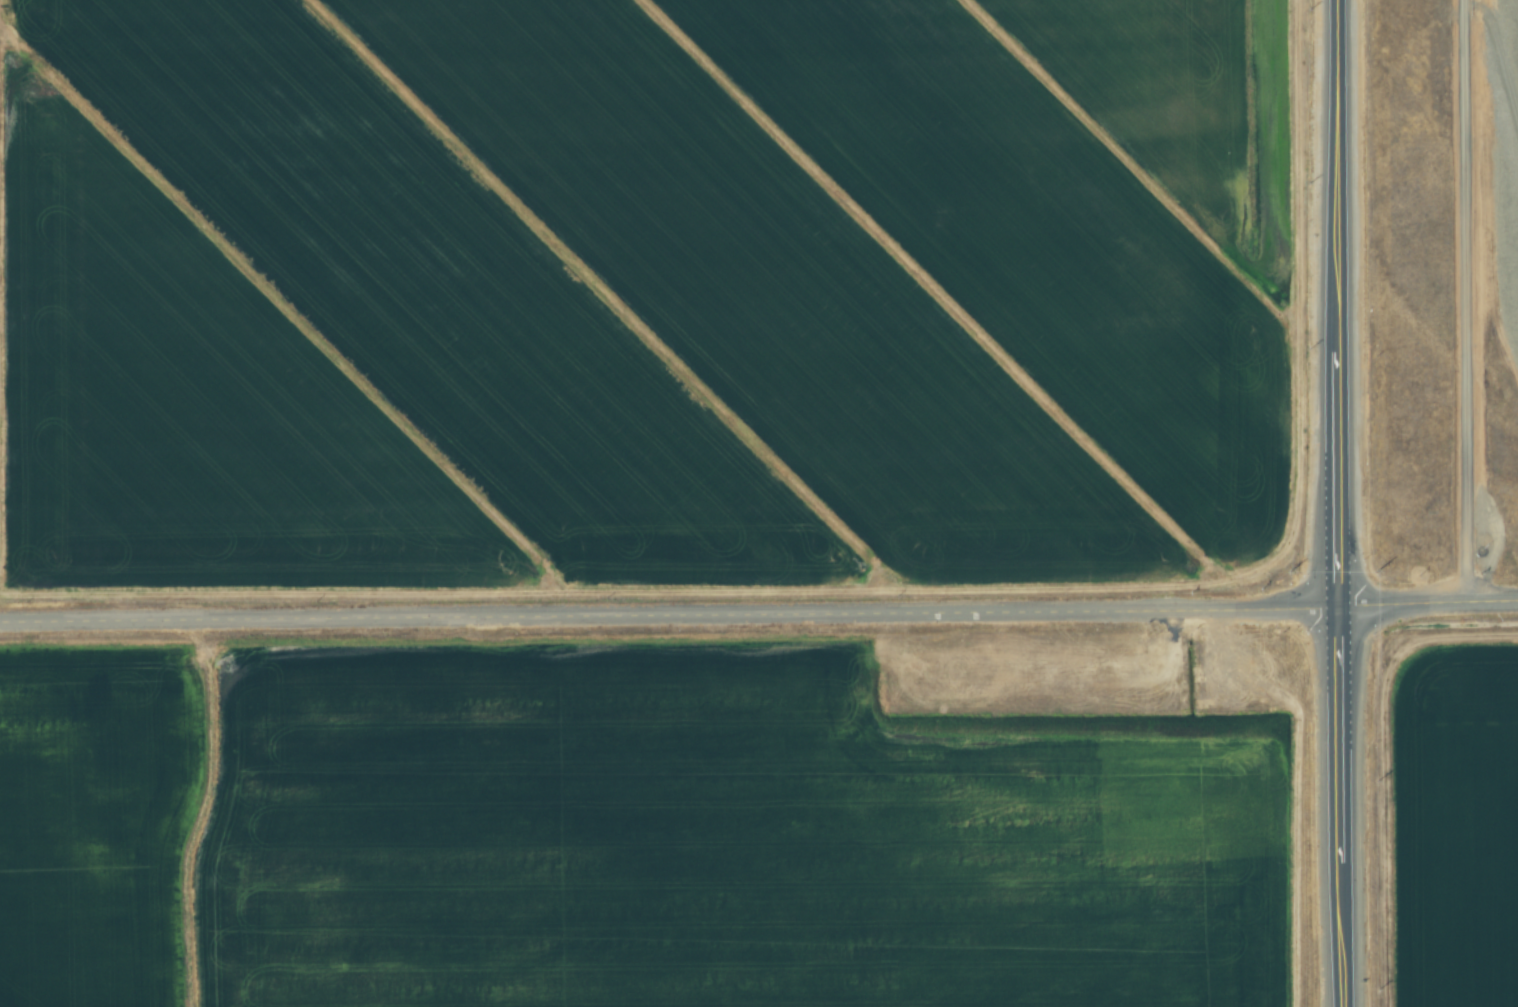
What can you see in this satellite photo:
road: (1464, 301)
road: (1343, 503)
road: (1430, 602)
road: (672, 621)

